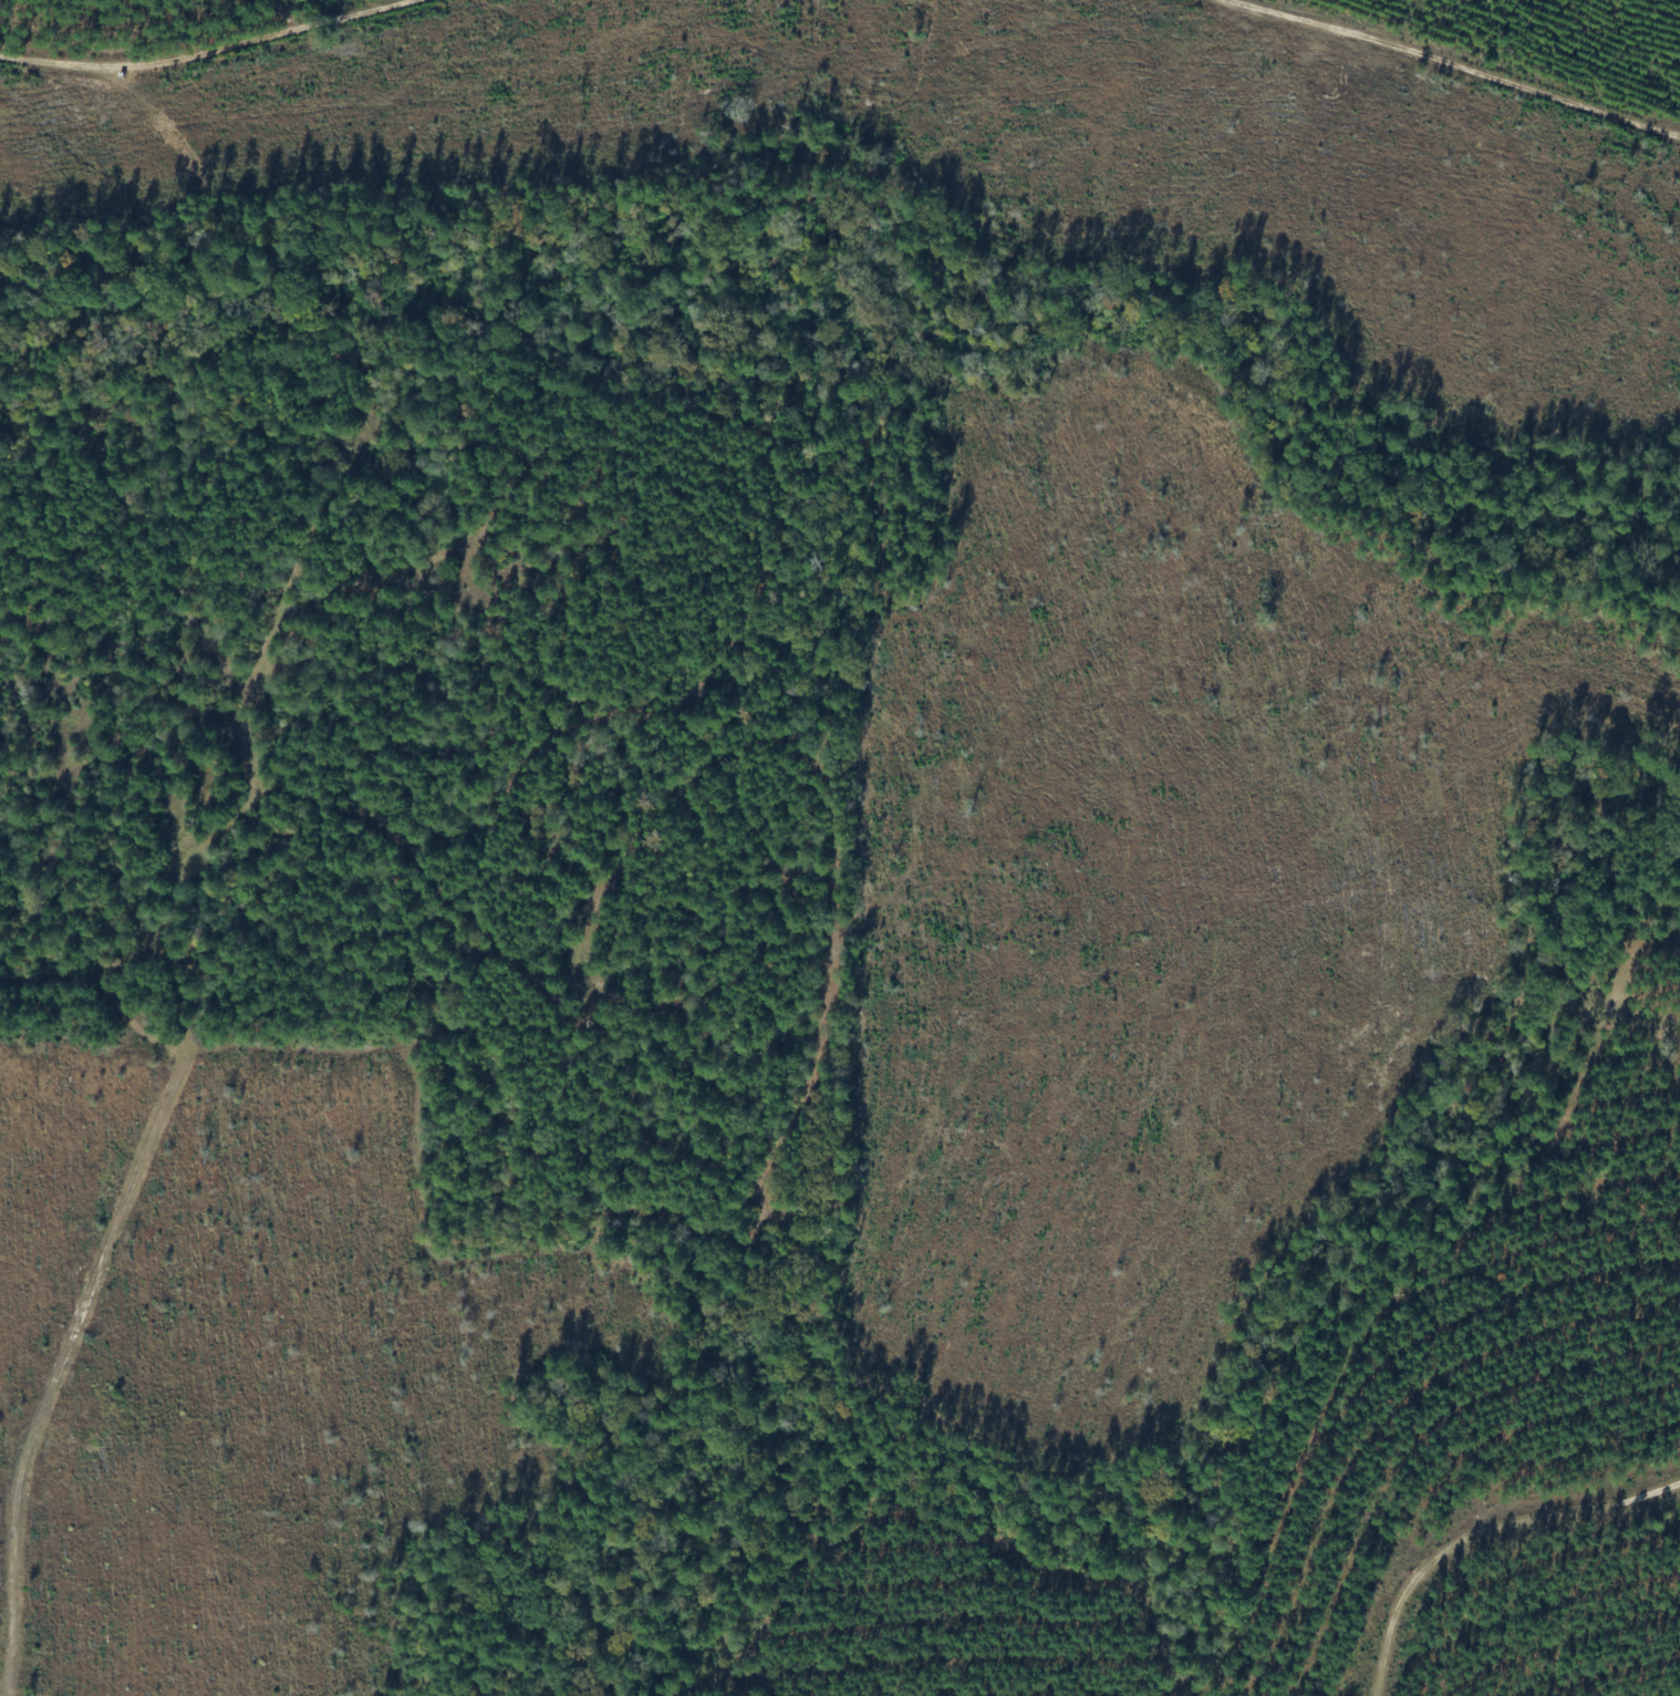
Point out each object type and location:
road: (1483, 1554)

